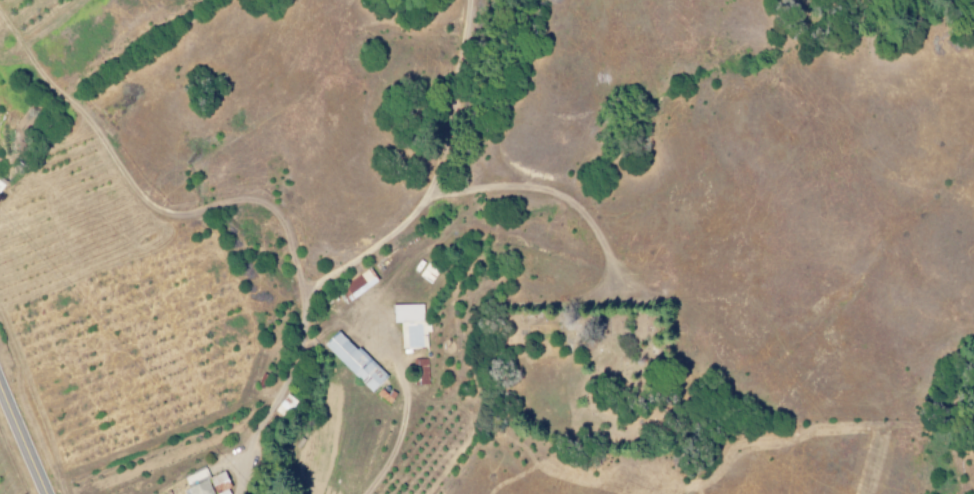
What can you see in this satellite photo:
building: (358, 284)
building: (410, 325)
building: (351, 360)
park: (584, 368)
road: (26, 432)
building: (205, 483)

